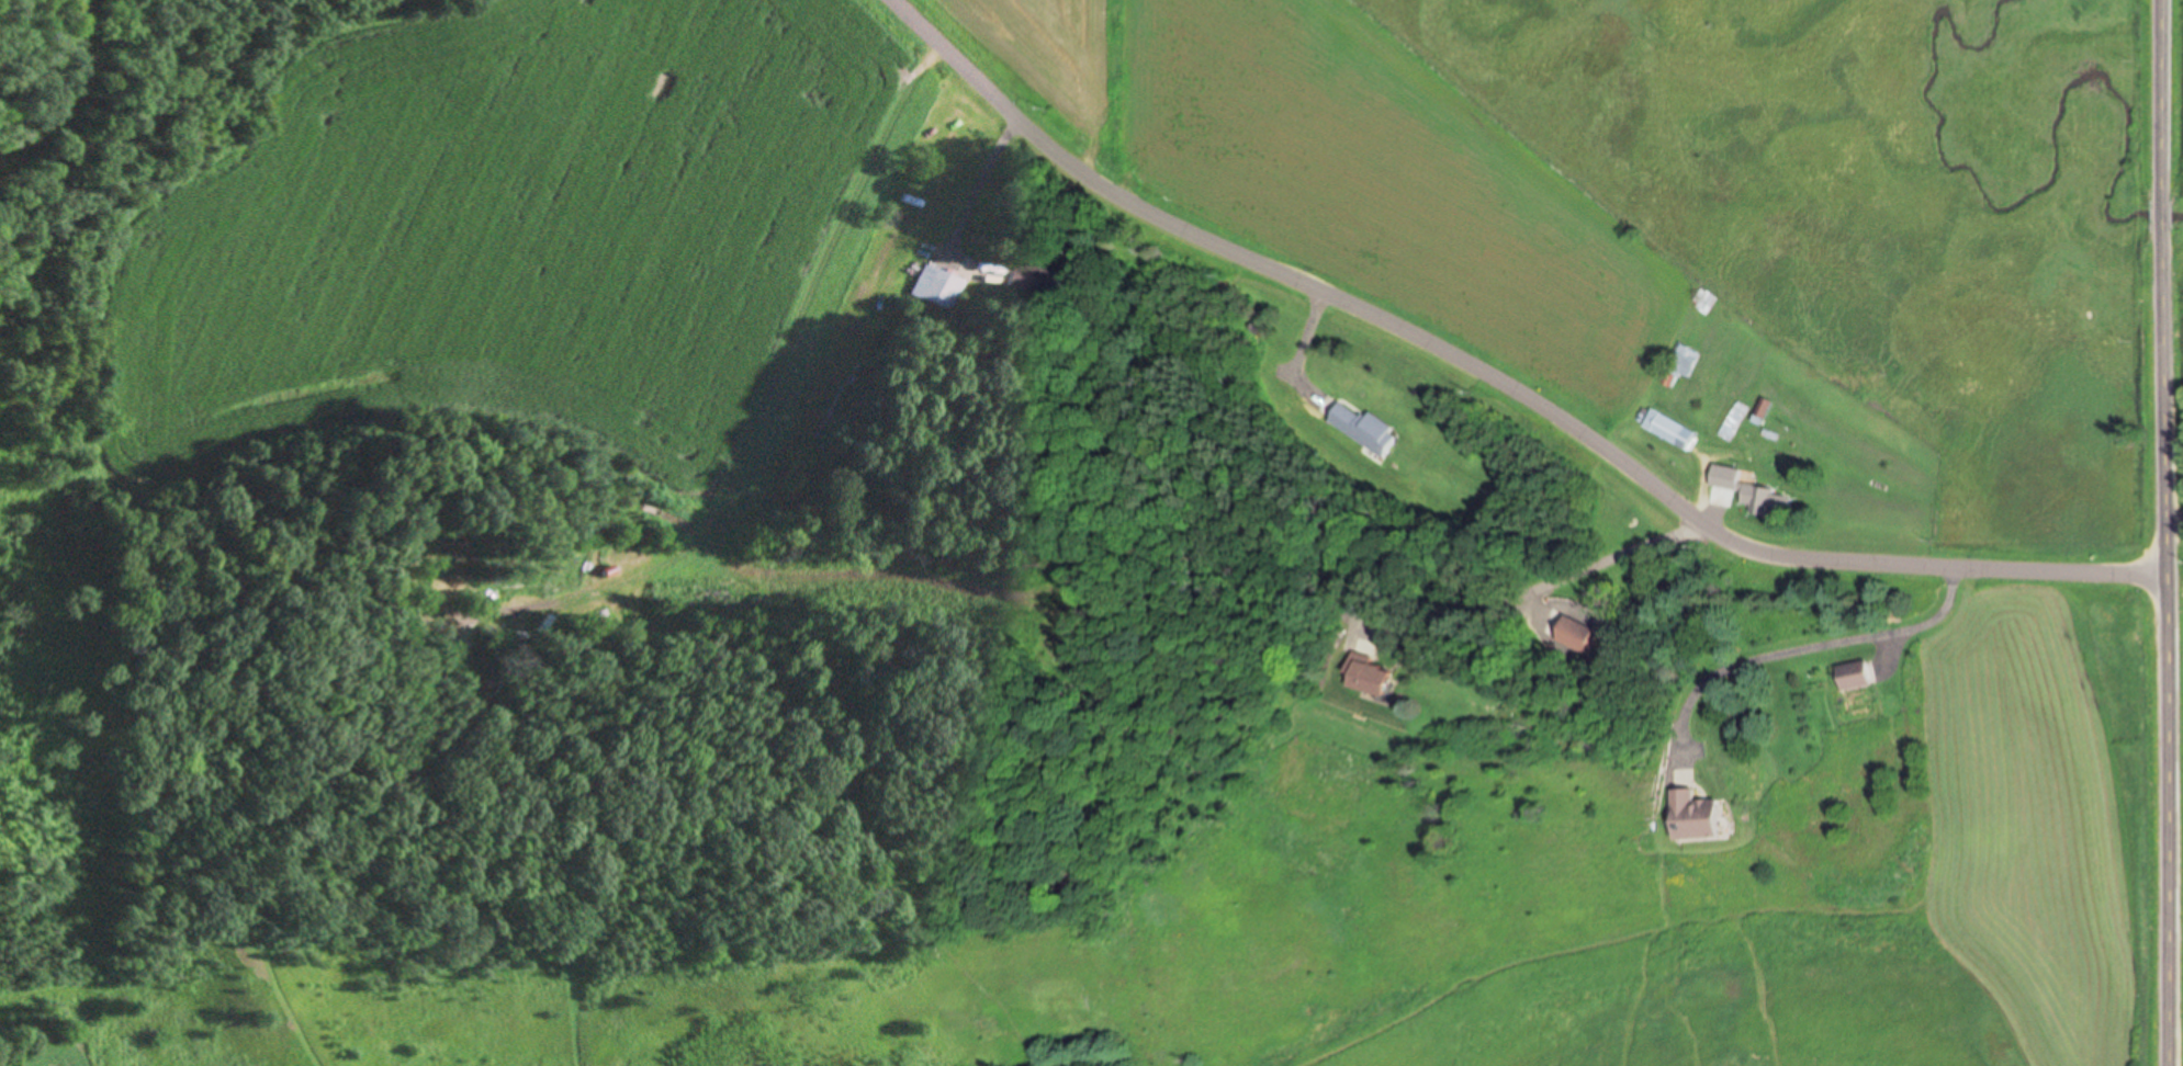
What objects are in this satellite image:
building: (1035, 281)
building: (941, 287)
building: (1680, 366)
road: (1500, 382)
building: (1762, 412)
building: (1730, 426)
building: (1664, 428)
building: (1364, 430)
building: (1754, 494)
road: (2173, 519)
road: (2164, 532)
road: (1534, 589)
building: (1572, 636)
road: (1791, 651)
building: (1370, 676)
building: (1854, 676)
building: (1699, 817)

